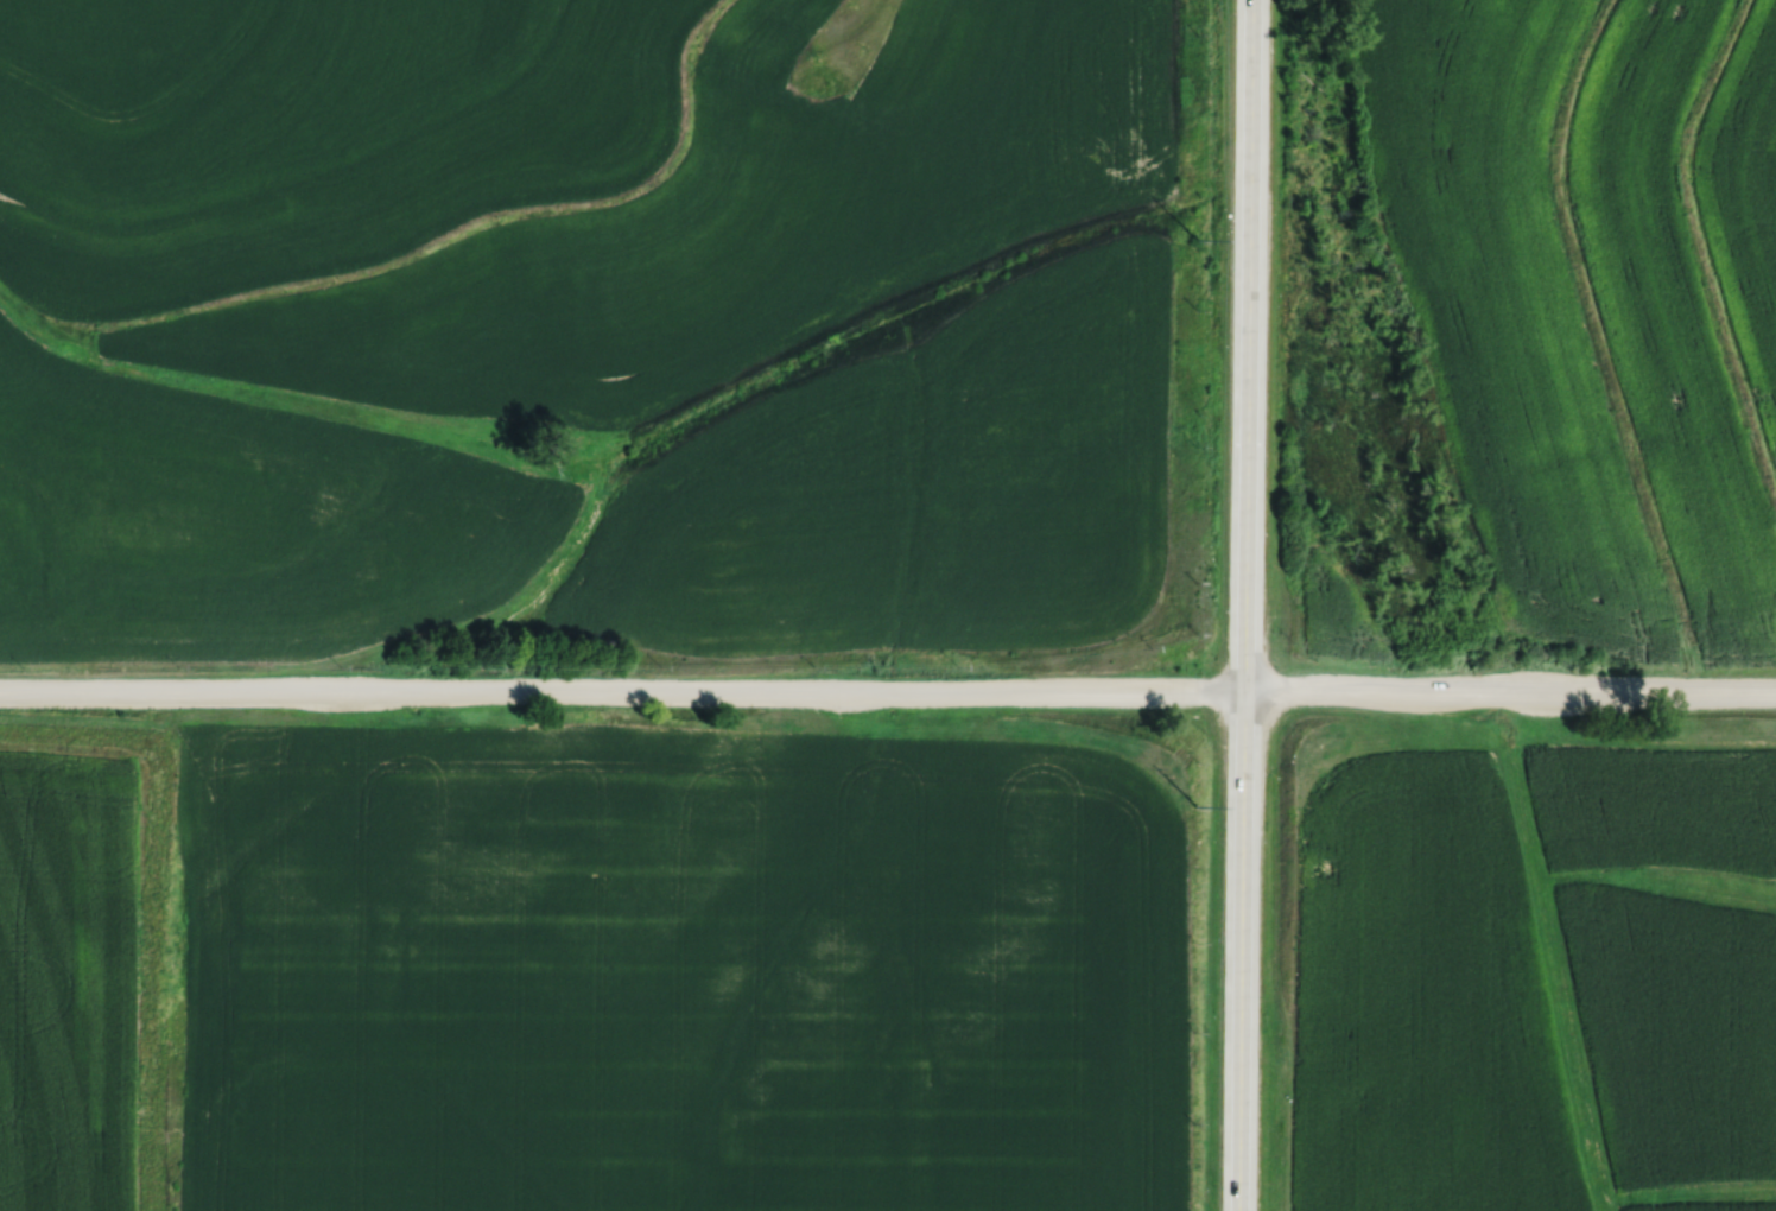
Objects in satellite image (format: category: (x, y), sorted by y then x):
power tower: (1195, 240)
road: (1243, 604)
road: (888, 690)
power tower: (1191, 806)

